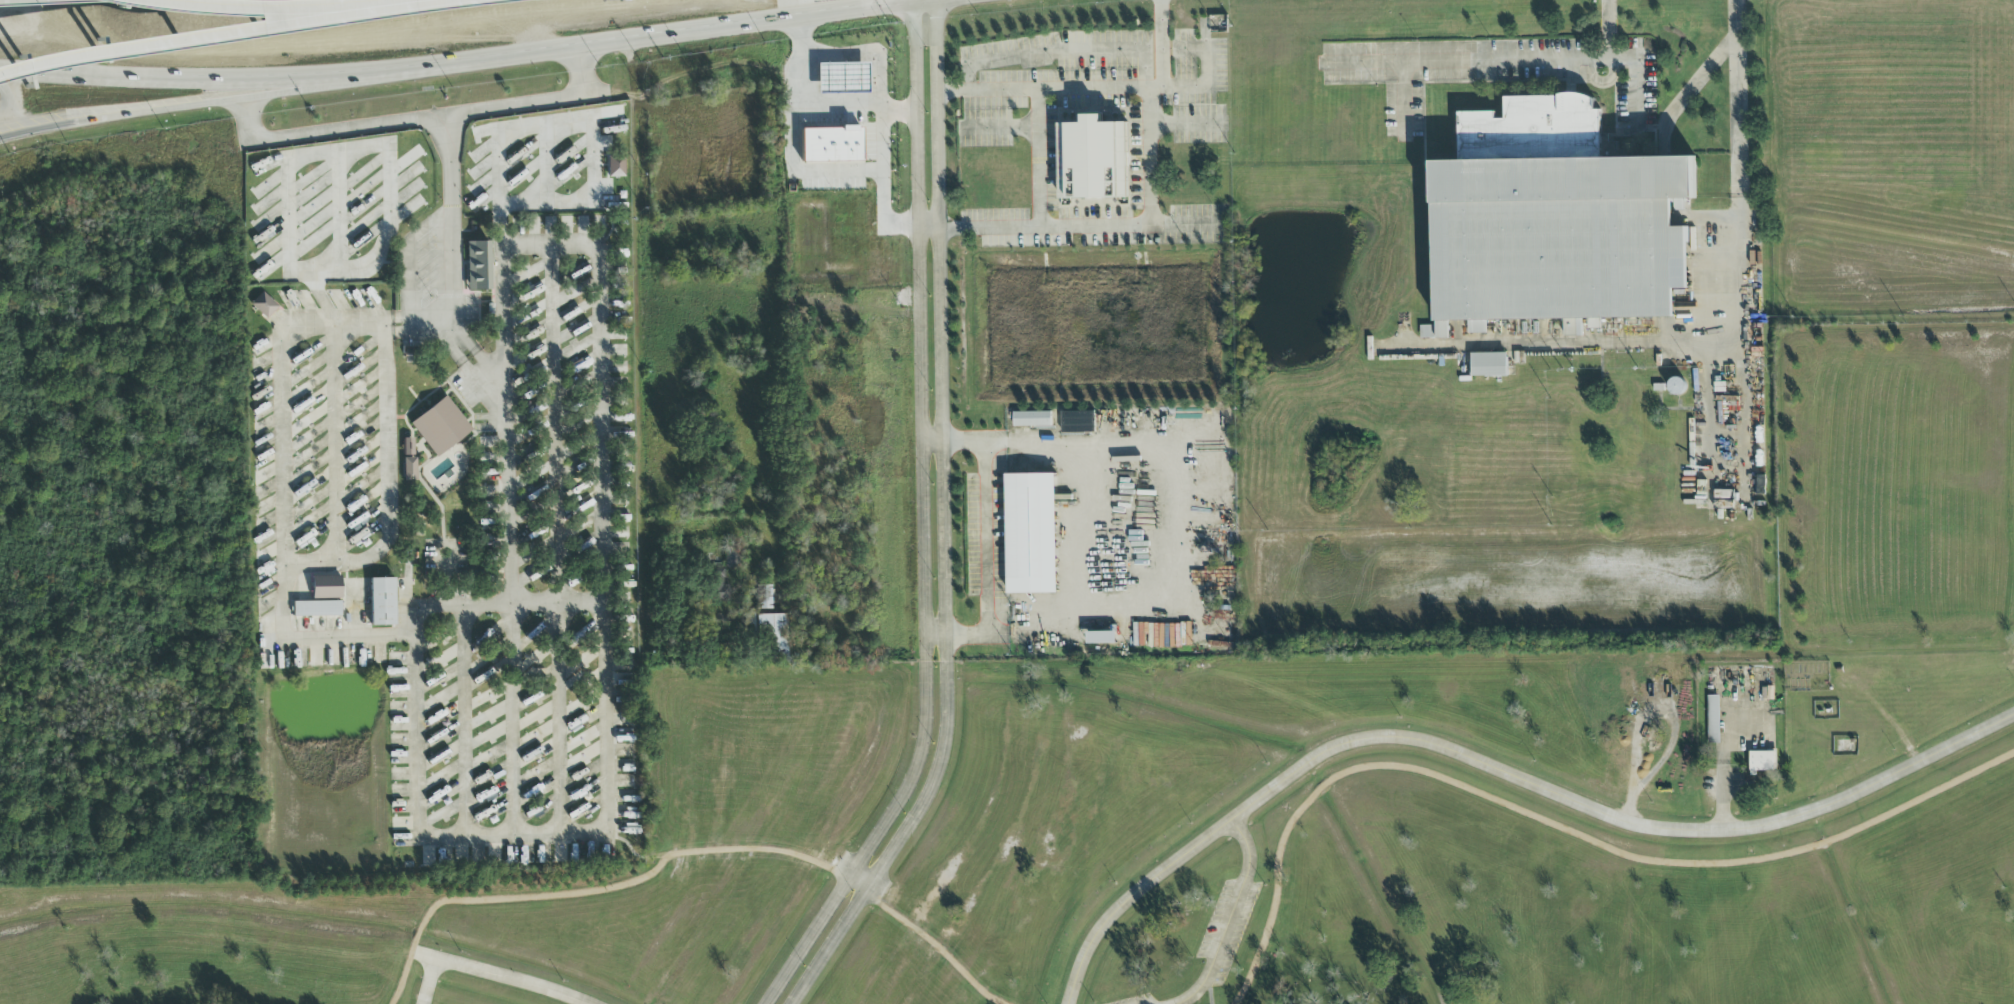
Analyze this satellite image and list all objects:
road: (304, 5)
road: (1607, 29)
road: (210, 34)
road: (1160, 43)
road: (1187, 50)
road: (1054, 51)
road: (1204, 56)
road: (1515, 59)
road: (457, 61)
road: (869, 62)
road: (965, 77)
building: (842, 79)
gas station: (842, 79)
road: (1072, 87)
road: (294, 90)
road: (1689, 90)
road: (1402, 101)
road: (121, 115)
road: (417, 122)
road: (1187, 122)
road: (572, 124)
road: (997, 129)
road: (881, 130)
road: (1147, 137)
building: (831, 145)
road: (338, 152)
road: (1037, 157)
building: (1093, 159)
road: (546, 165)
building: (616, 167)
road: (798, 179)
road: (1085, 226)
road: (930, 228)
building: (1557, 236)
road: (578, 245)
building: (478, 264)
building: (264, 306)
road: (456, 311)
road: (380, 323)
building: (1594, 323)
building: (1574, 327)
road: (1405, 332)
road: (1722, 343)
building: (1487, 363)
road: (479, 369)
building: (1033, 419)
building: (1079, 421)
building: (440, 427)
road: (934, 437)
road: (333, 444)
building: (408, 447)
building: (409, 469)
road: (945, 522)
road: (926, 523)
road: (1086, 527)
road: (1176, 531)
road: (987, 532)
building: (1032, 533)
road: (515, 538)
building: (733, 557)
road: (605, 561)
building: (720, 587)
building: (326, 588)
building: (762, 597)
building: (382, 602)
building: (316, 609)
road: (403, 615)
building: (772, 632)
road: (938, 633)
building: (1102, 637)
road: (565, 672)
road: (1648, 714)
building: (1714, 719)
road: (418, 720)
road: (1728, 737)
building: (1763, 761)
road: (1499, 770)
road: (1721, 799)
park: (1278, 802)
road: (1554, 825)
road: (443, 834)
road: (864, 880)
road: (597, 891)
road: (1231, 917)
parking lot: (1229, 927)
road: (937, 947)
road: (498, 976)
road: (430, 982)
road: (1212, 992)
parking lot: (1140, 1000)
road: (1186, 1003)

